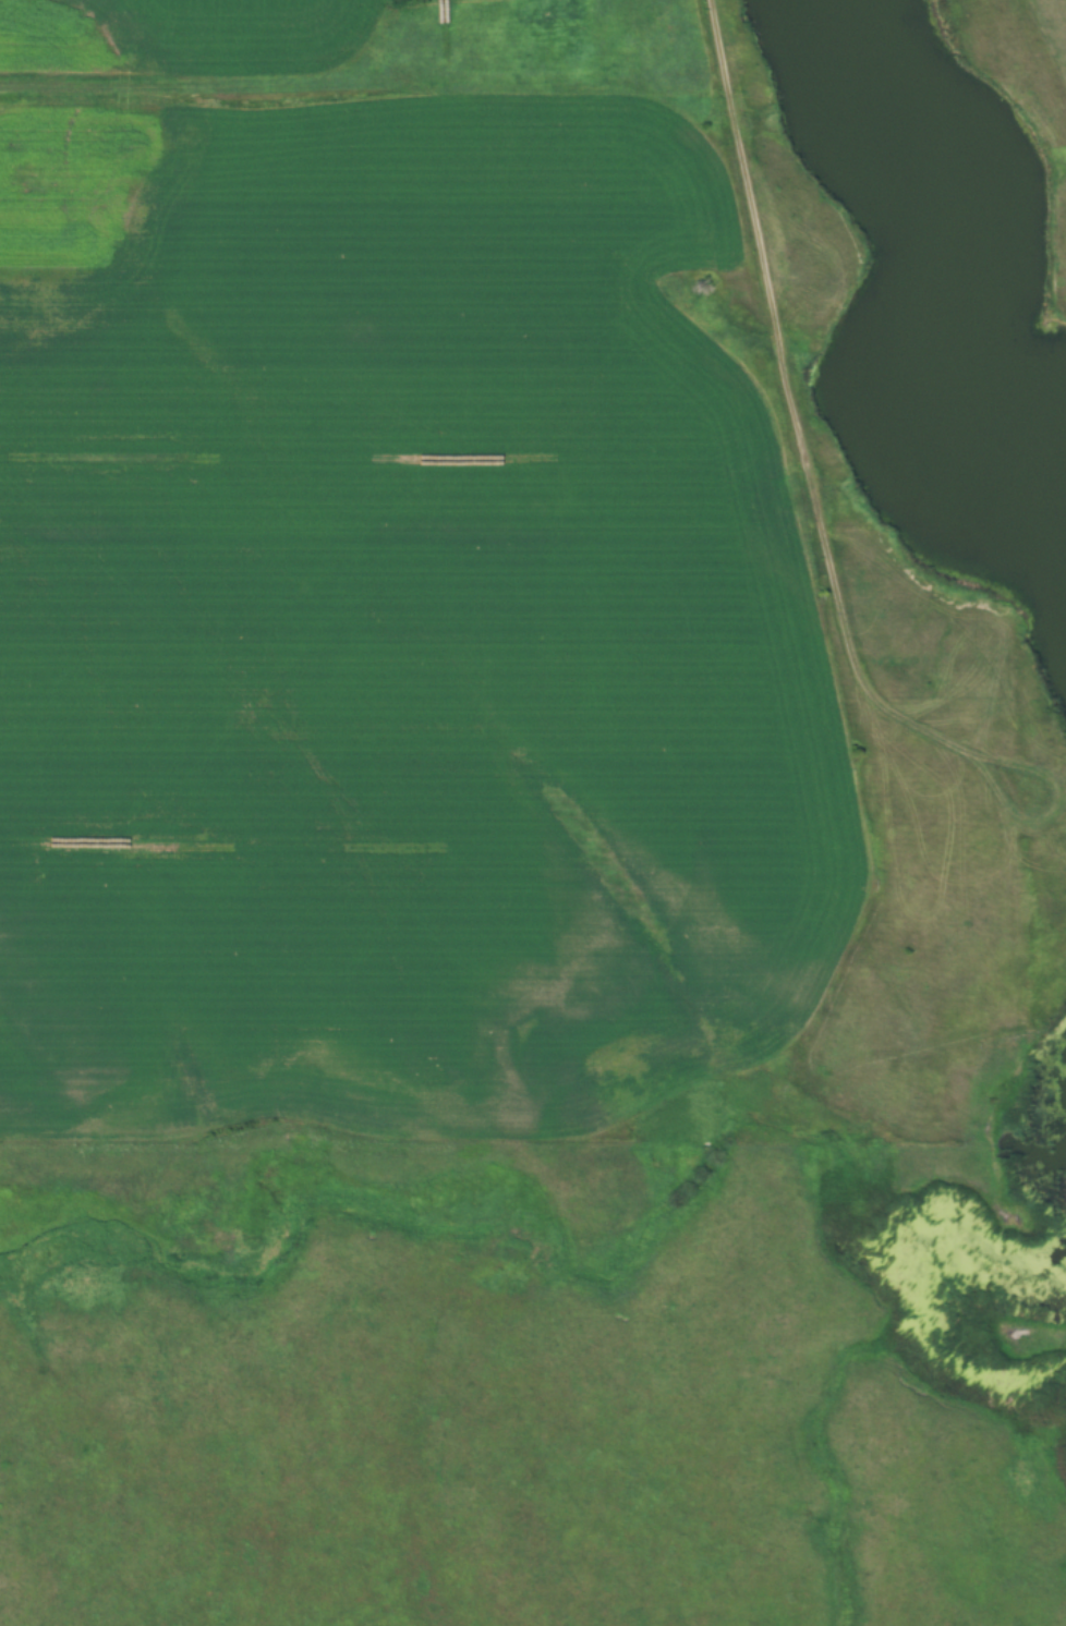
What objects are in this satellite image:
road: (802, 423)

